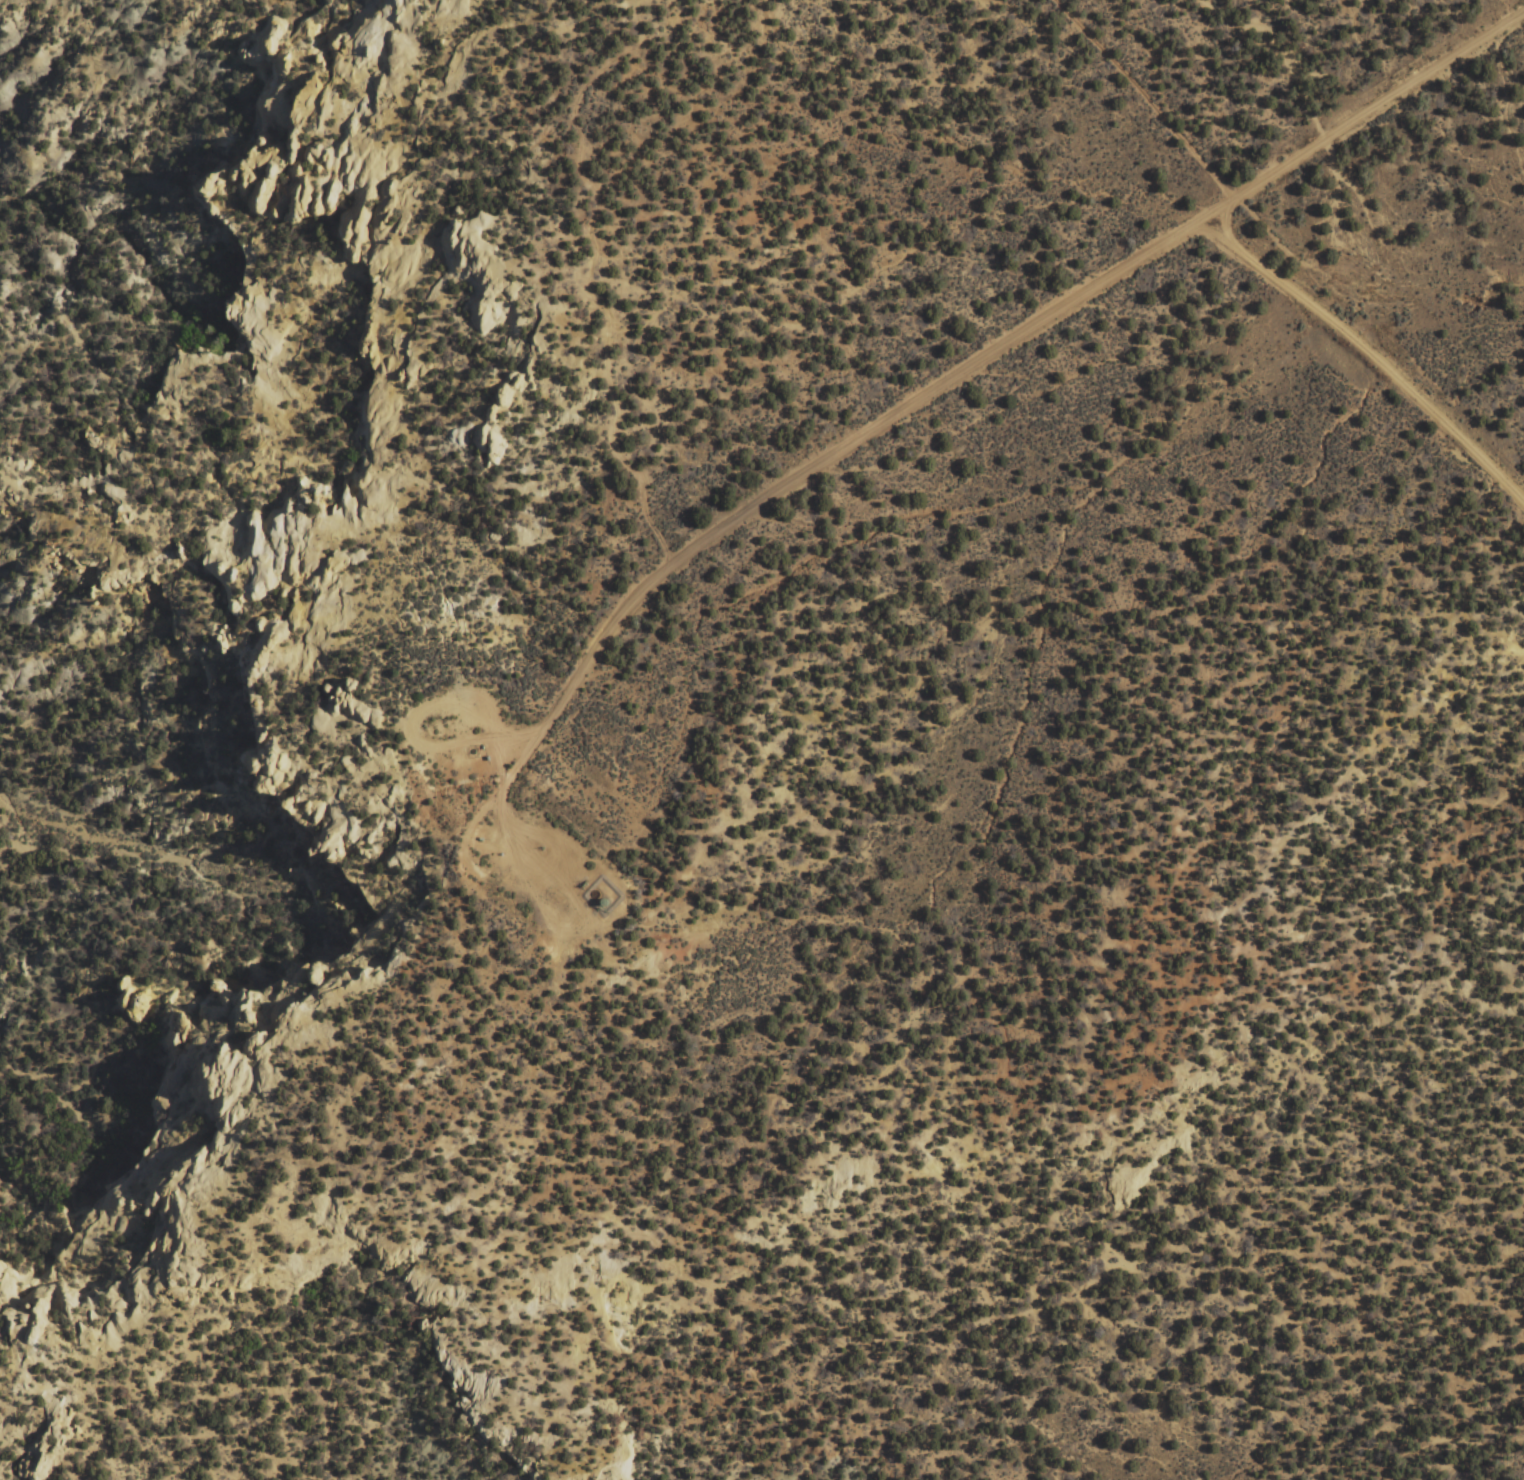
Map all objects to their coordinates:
road: (938, 388)

